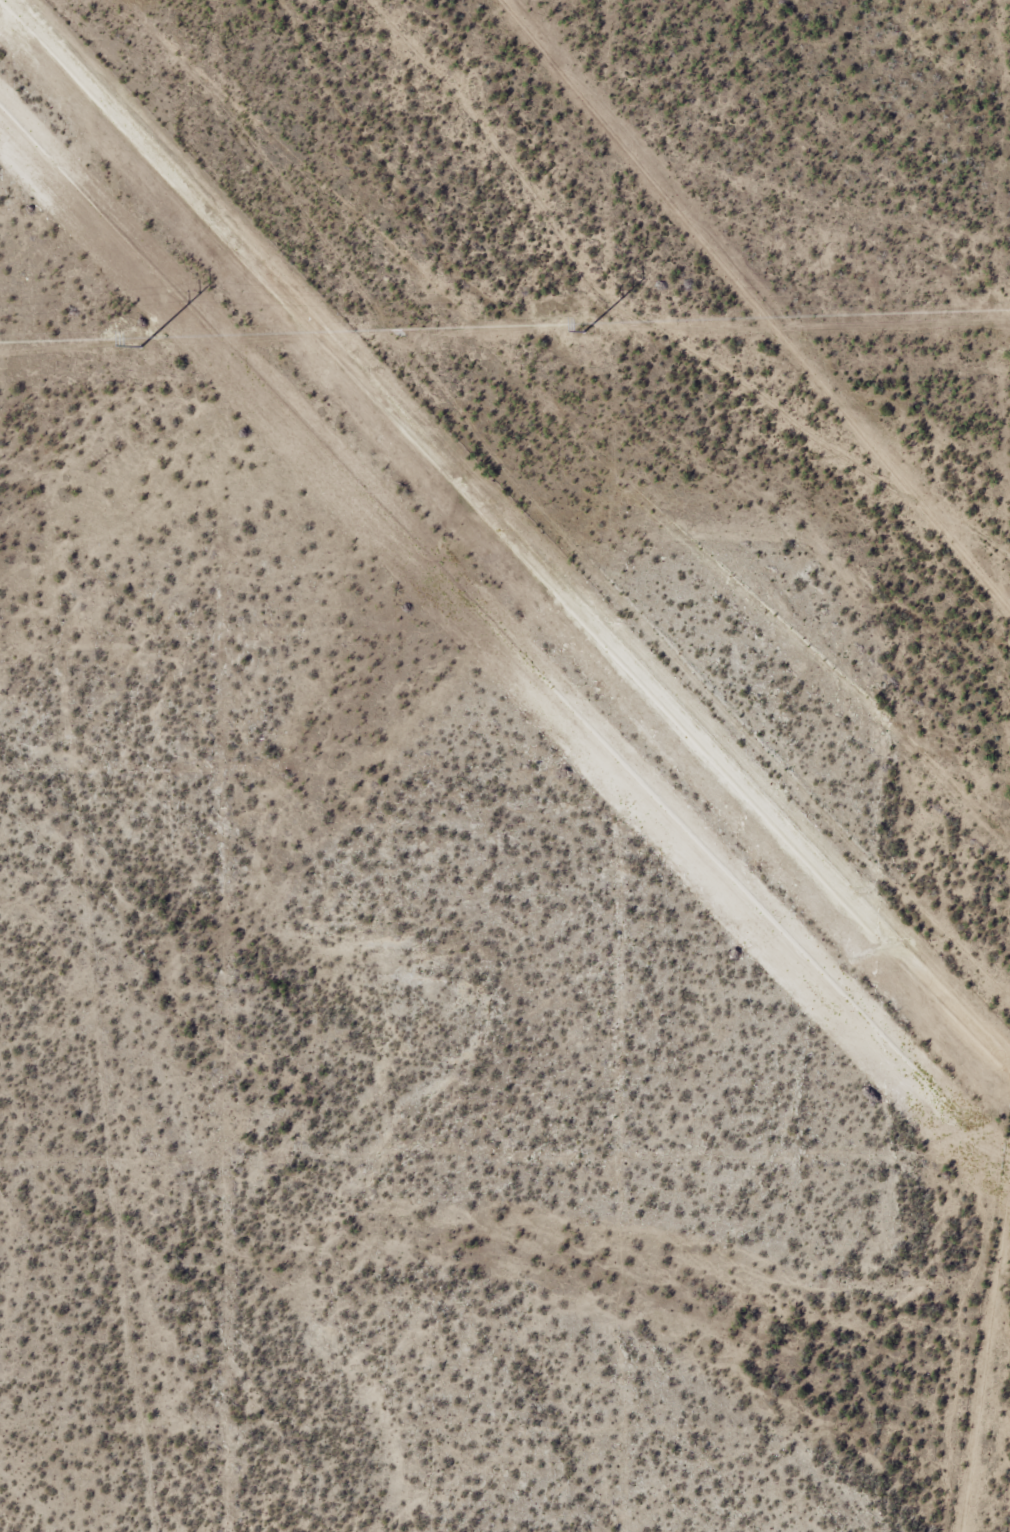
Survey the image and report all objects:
power tower: (578, 330)
power tower: (138, 344)
road: (561, 400)
road: (965, 1357)

